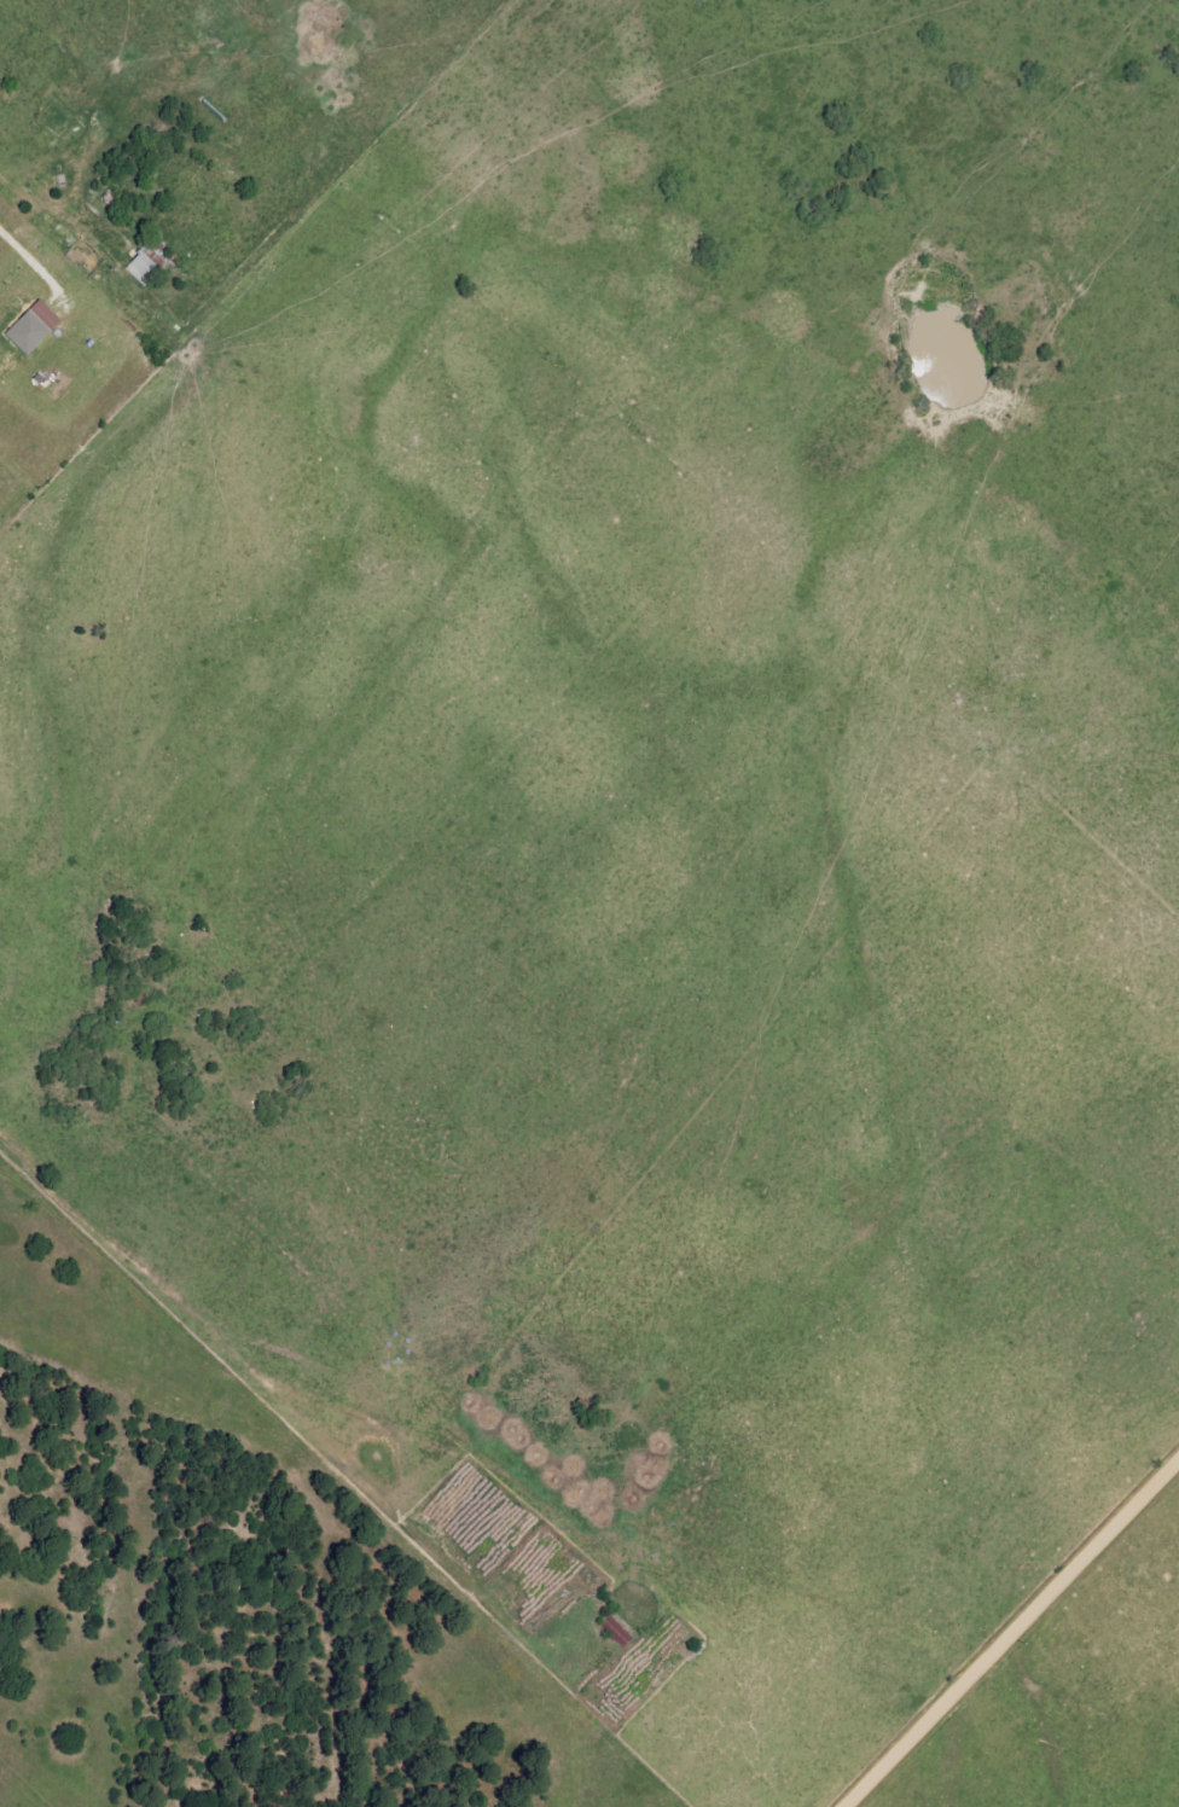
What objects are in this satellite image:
road: (30, 260)
building: (146, 269)
building: (33, 333)
road: (242, 1395)
road: (1011, 1633)

